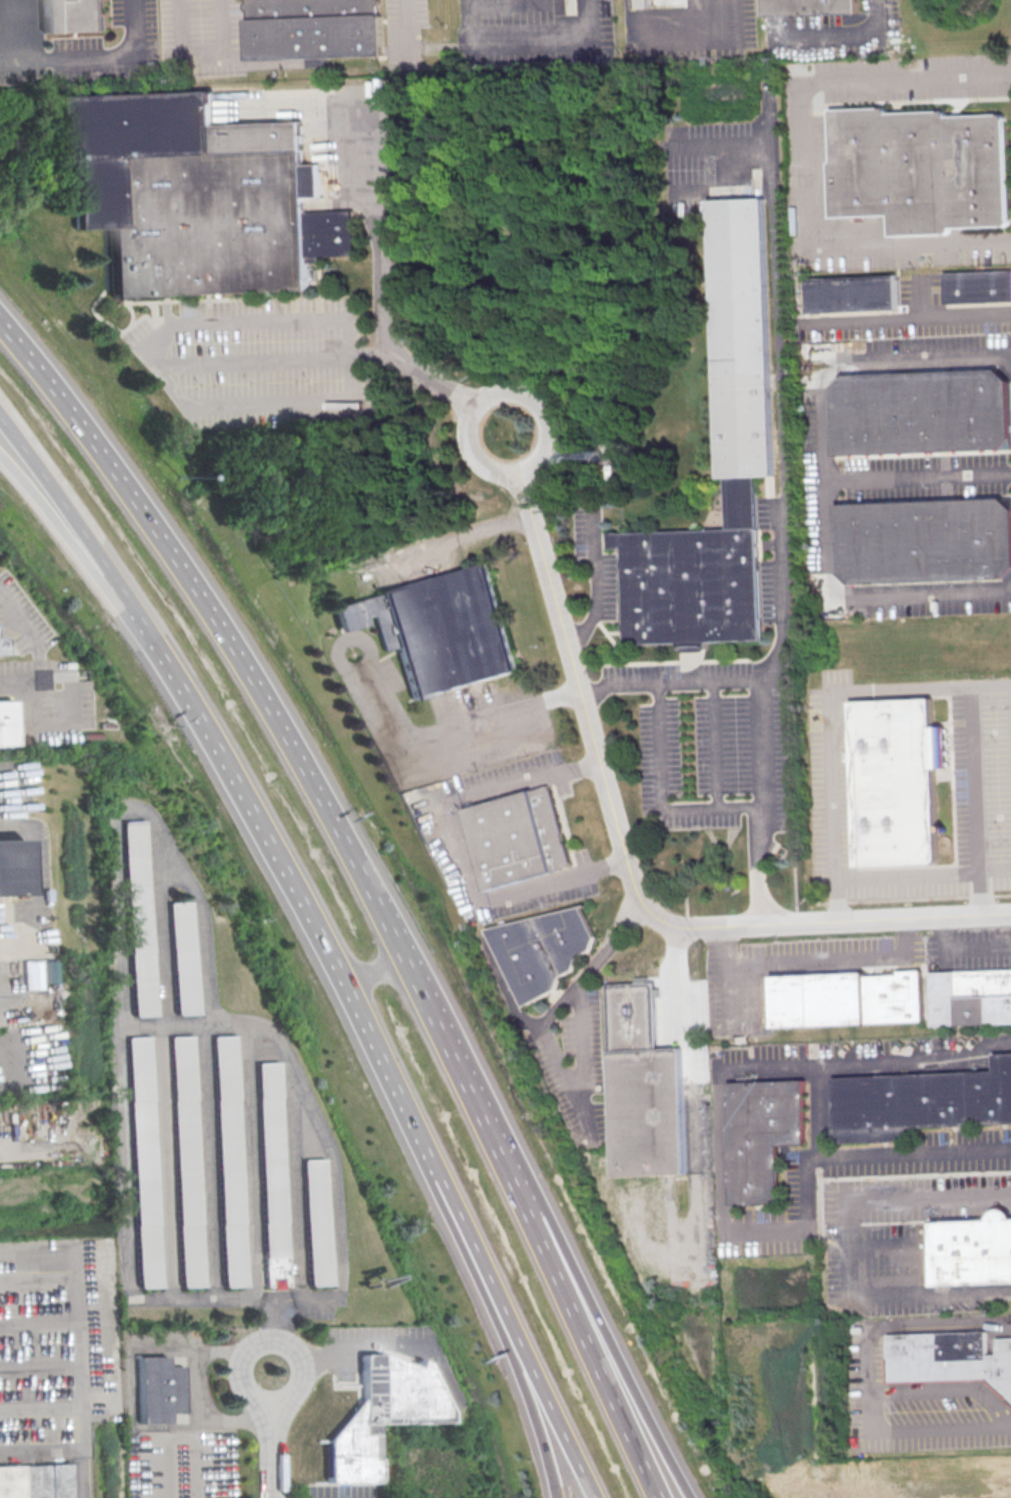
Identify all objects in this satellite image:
building: (643, 3)
building: (810, 6)
building: (71, 14)
road: (406, 26)
building: (312, 28)
road: (706, 28)
parking lot: (692, 30)
parking lot: (532, 32)
parking lot: (406, 33)
road: (843, 33)
parking lot: (838, 34)
parking lot: (202, 36)
road: (491, 41)
parking lot: (93, 49)
road: (92, 55)
road: (200, 57)
road: (808, 161)
building: (918, 168)
parking lot: (805, 172)
building: (196, 195)
road: (380, 231)
building: (976, 285)
building: (851, 292)
road: (920, 299)
road: (908, 317)
building: (742, 337)
parking lot: (263, 360)
road: (255, 361)
road: (411, 368)
road: (779, 371)
road: (493, 391)
road: (195, 402)
building: (919, 409)
road: (917, 474)
road: (823, 475)
parking lot: (894, 477)
road: (56, 495)
road: (54, 519)
building: (921, 540)
parking lot: (778, 559)
parking lot: (592, 563)
road: (593, 584)
road: (205, 601)
road: (15, 618)
building: (438, 629)
road: (348, 640)
building: (1, 648)
road: (13, 684)
parking lot: (440, 718)
road: (67, 720)
building: (7, 725)
road: (463, 725)
parking lot: (708, 742)
road: (713, 742)
road: (974, 779)
building: (896, 780)
road: (830, 781)
parking lot: (982, 782)
road: (12, 799)
road: (732, 807)
road: (138, 811)
parking lot: (443, 828)
road: (266, 834)
building: (517, 836)
road: (621, 842)
road: (453, 845)
road: (757, 865)
building: (11, 867)
road: (35, 888)
road: (979, 893)
road: (835, 899)
road: (982, 912)
building: (142, 917)
road: (164, 927)
road: (961, 947)
building: (542, 949)
building: (186, 955)
road: (835, 957)
road: (591, 966)
road: (374, 969)
building: (29, 974)
road: (727, 987)
building: (971, 996)
building: (847, 997)
parking lot: (738, 1001)
road: (243, 1021)
road: (27, 1050)
parking lot: (575, 1066)
building: (642, 1087)
road: (689, 1088)
road: (571, 1096)
building: (920, 1101)
road: (818, 1107)
building: (761, 1135)
road: (9, 1153)
building: (272, 1158)
road: (251, 1159)
road: (166, 1160)
road: (209, 1160)
building: (146, 1162)
building: (231, 1162)
building: (189, 1164)
road: (295, 1179)
road: (724, 1180)
parking lot: (802, 1194)
road: (527, 1199)
building: (317, 1220)
parking lot: (900, 1243)
road: (884, 1244)
road: (847, 1245)
building: (971, 1250)
building: (277, 1272)
road: (486, 1297)
road: (229, 1298)
road: (497, 1300)
parking lot: (289, 1303)
road: (37, 1325)
road: (940, 1327)
road: (606, 1331)
parking lot: (379, 1333)
road: (397, 1334)
road: (271, 1338)
parking lot: (58, 1341)
road: (76, 1349)
building: (949, 1357)
road: (321, 1359)
road: (870, 1359)
road: (38, 1368)
building: (161, 1390)
road: (199, 1399)
parking lot: (912, 1401)
road: (871, 1403)
road: (39, 1406)
building: (375, 1414)
road: (151, 1440)
road: (39, 1446)
road: (274, 1448)
parking lot: (183, 1464)
road: (217, 1469)
building: (35, 1482)
parking lot: (343, 1491)

